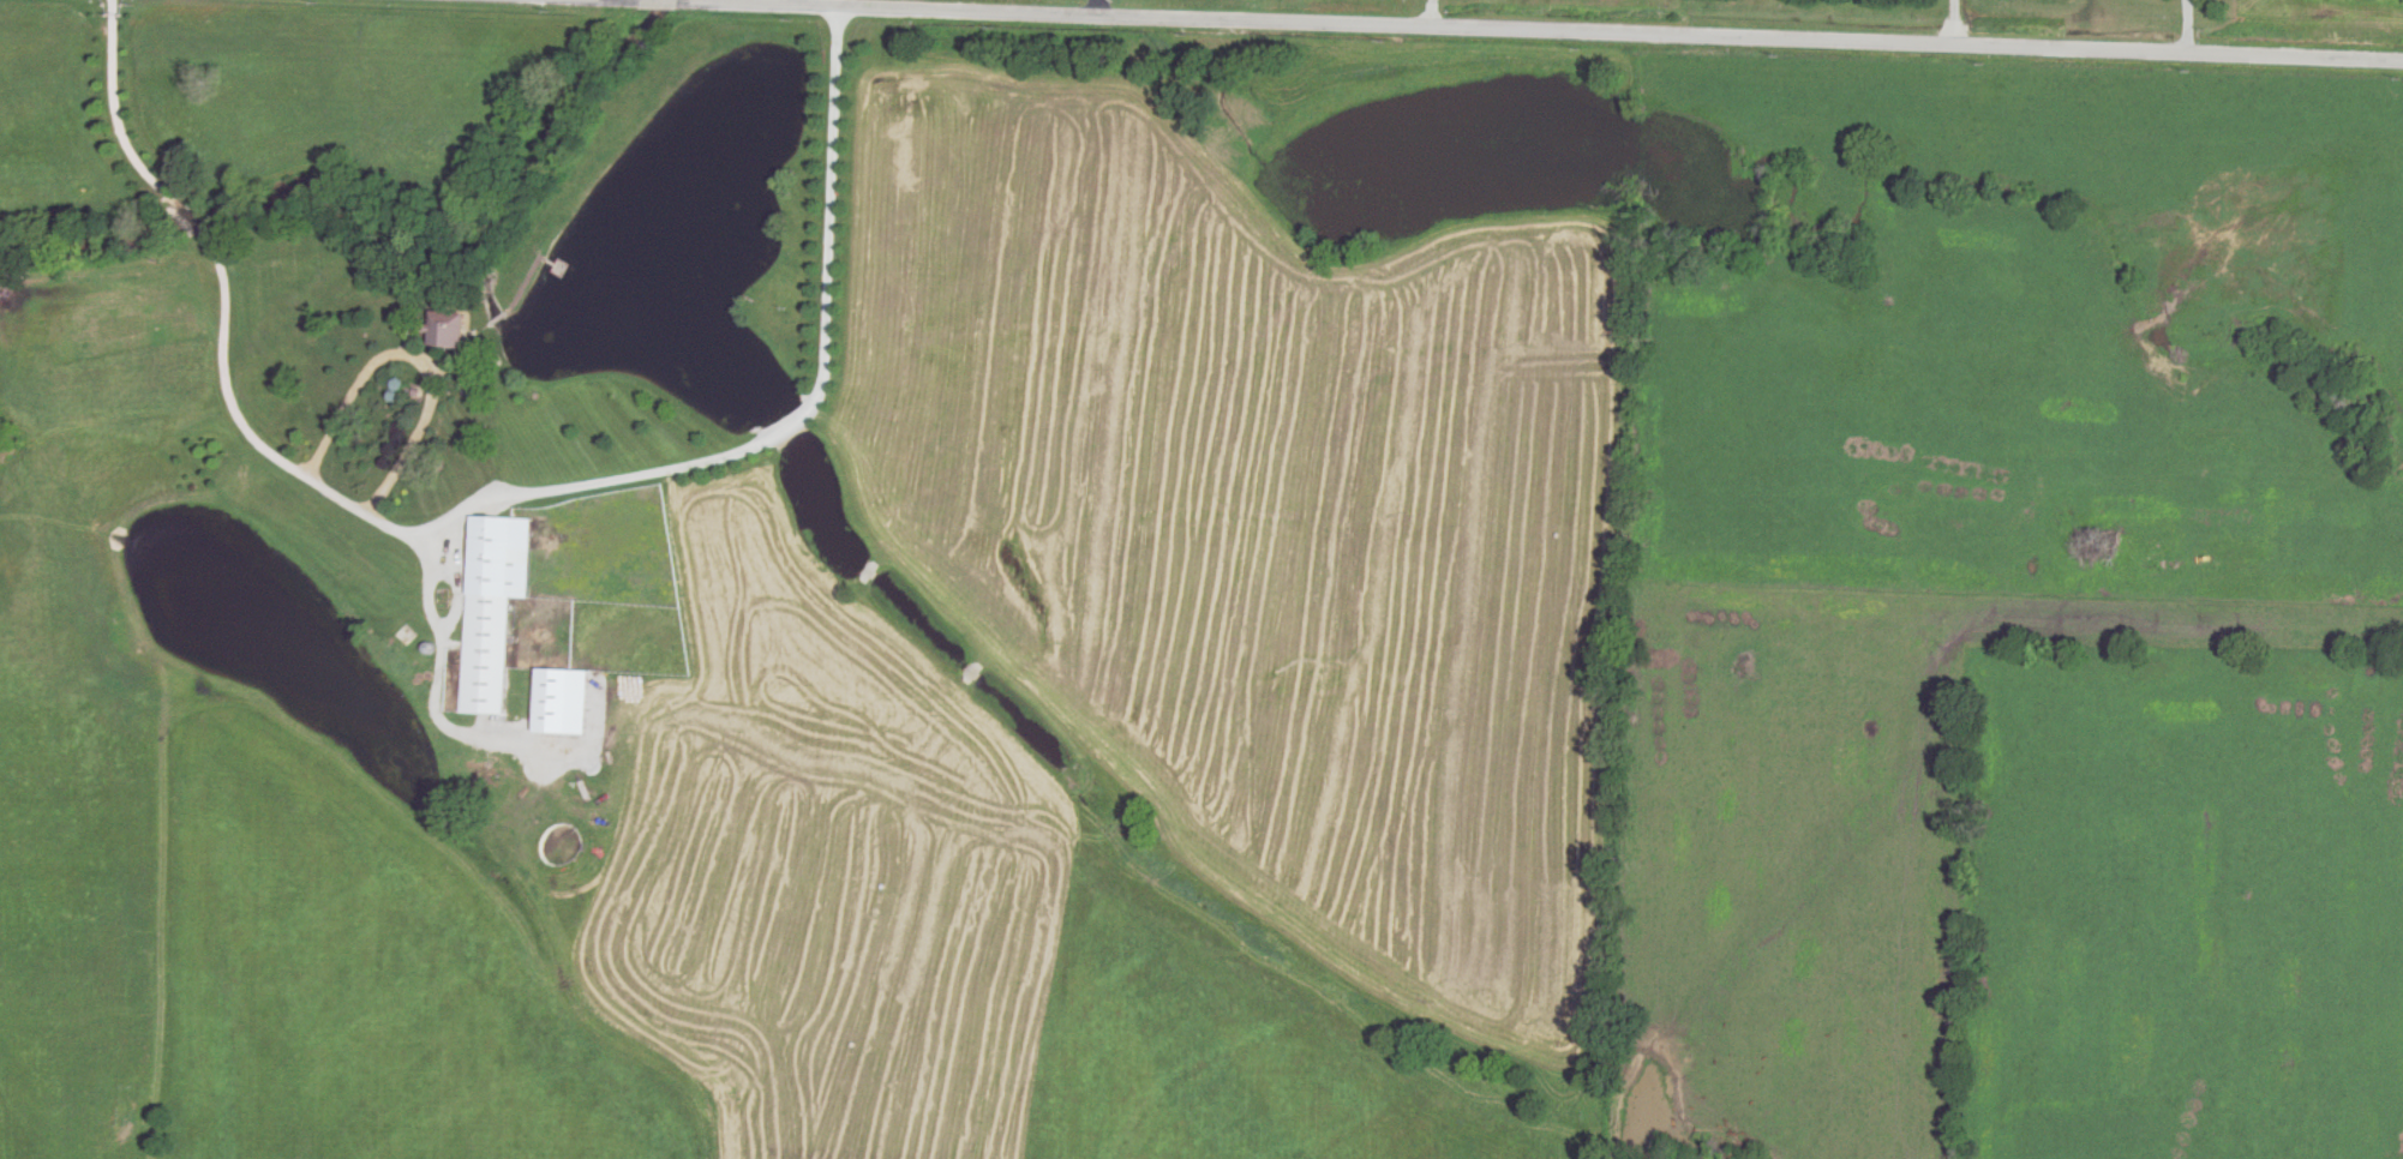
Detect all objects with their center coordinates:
road: (1364, 46)
road: (226, 307)
building: (496, 603)
crop: (731, 936)

